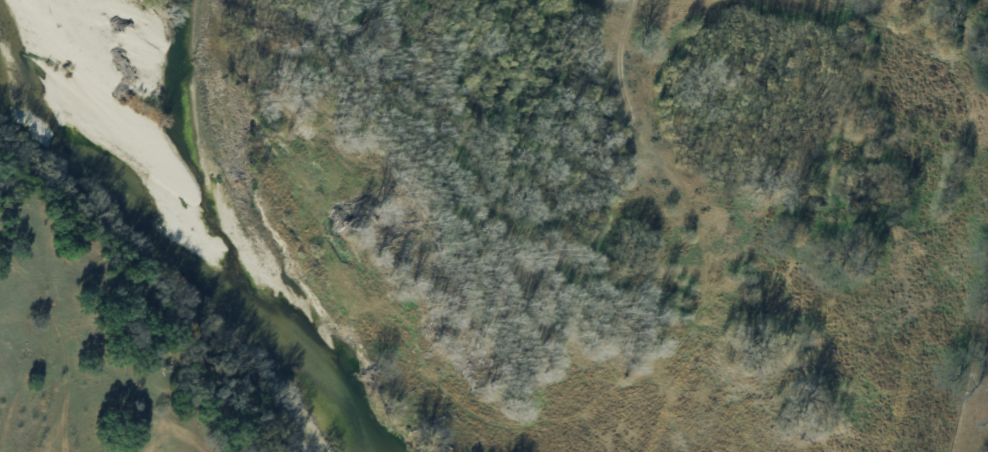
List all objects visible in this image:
river: (181, 251)

